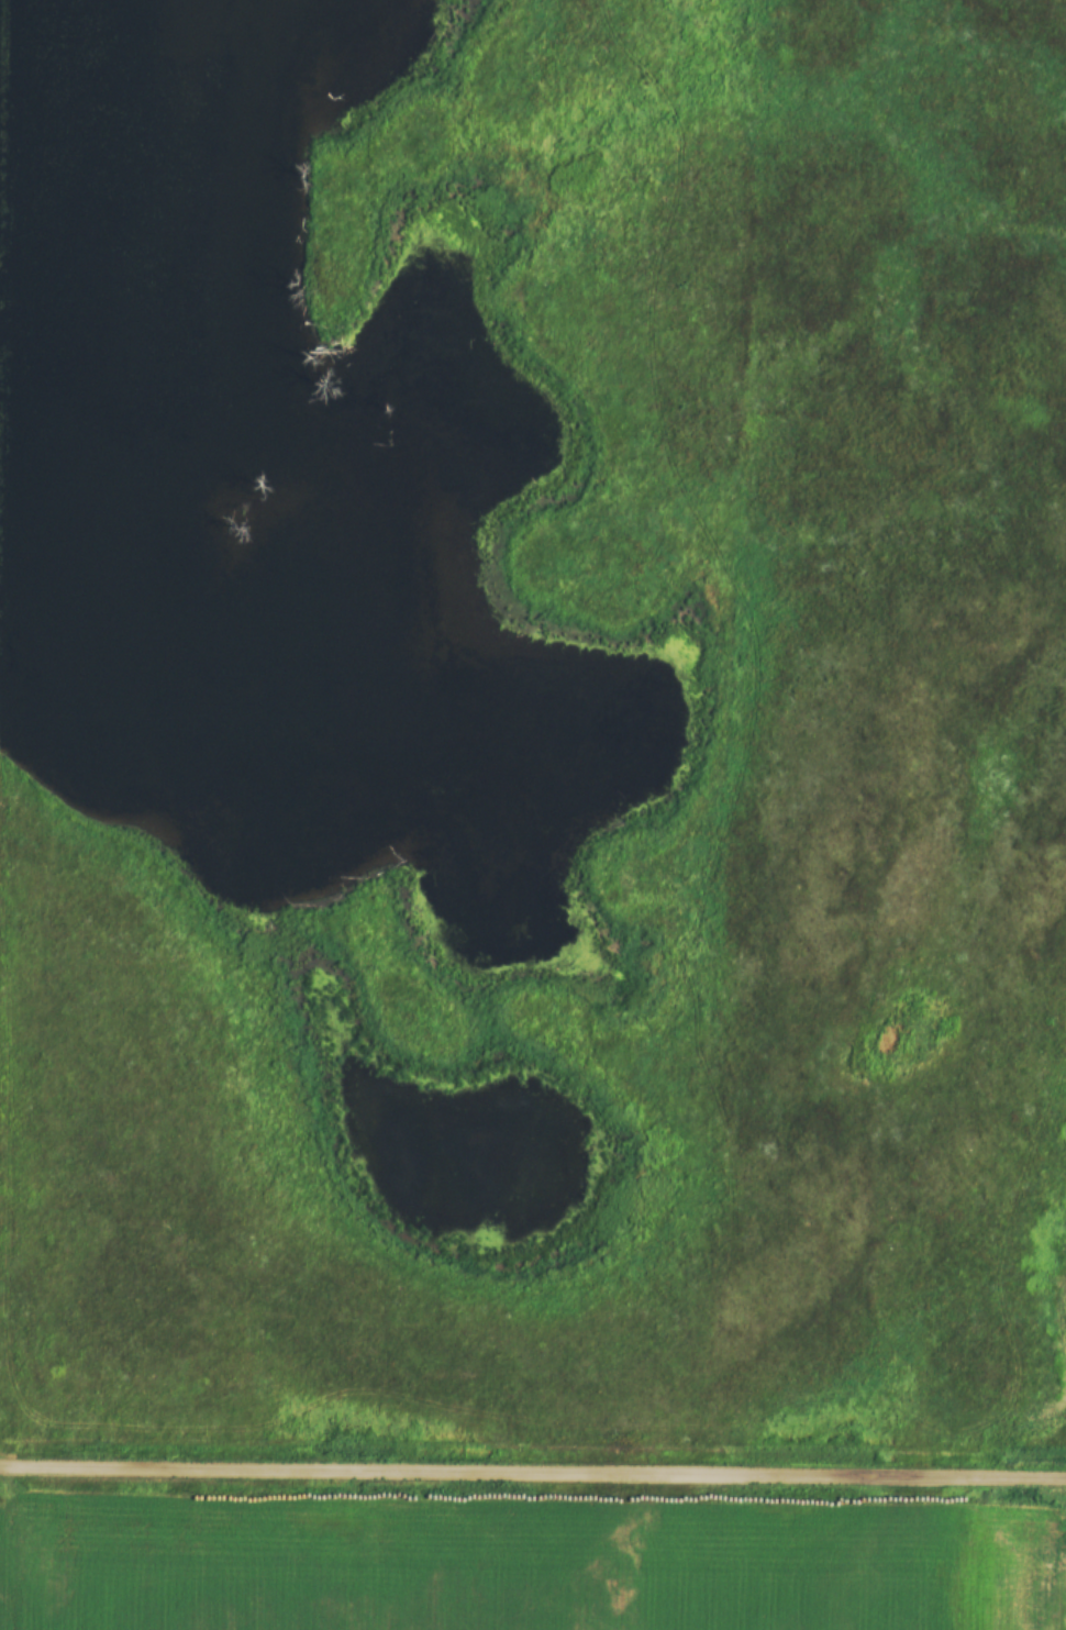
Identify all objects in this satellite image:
road: (533, 1471)

